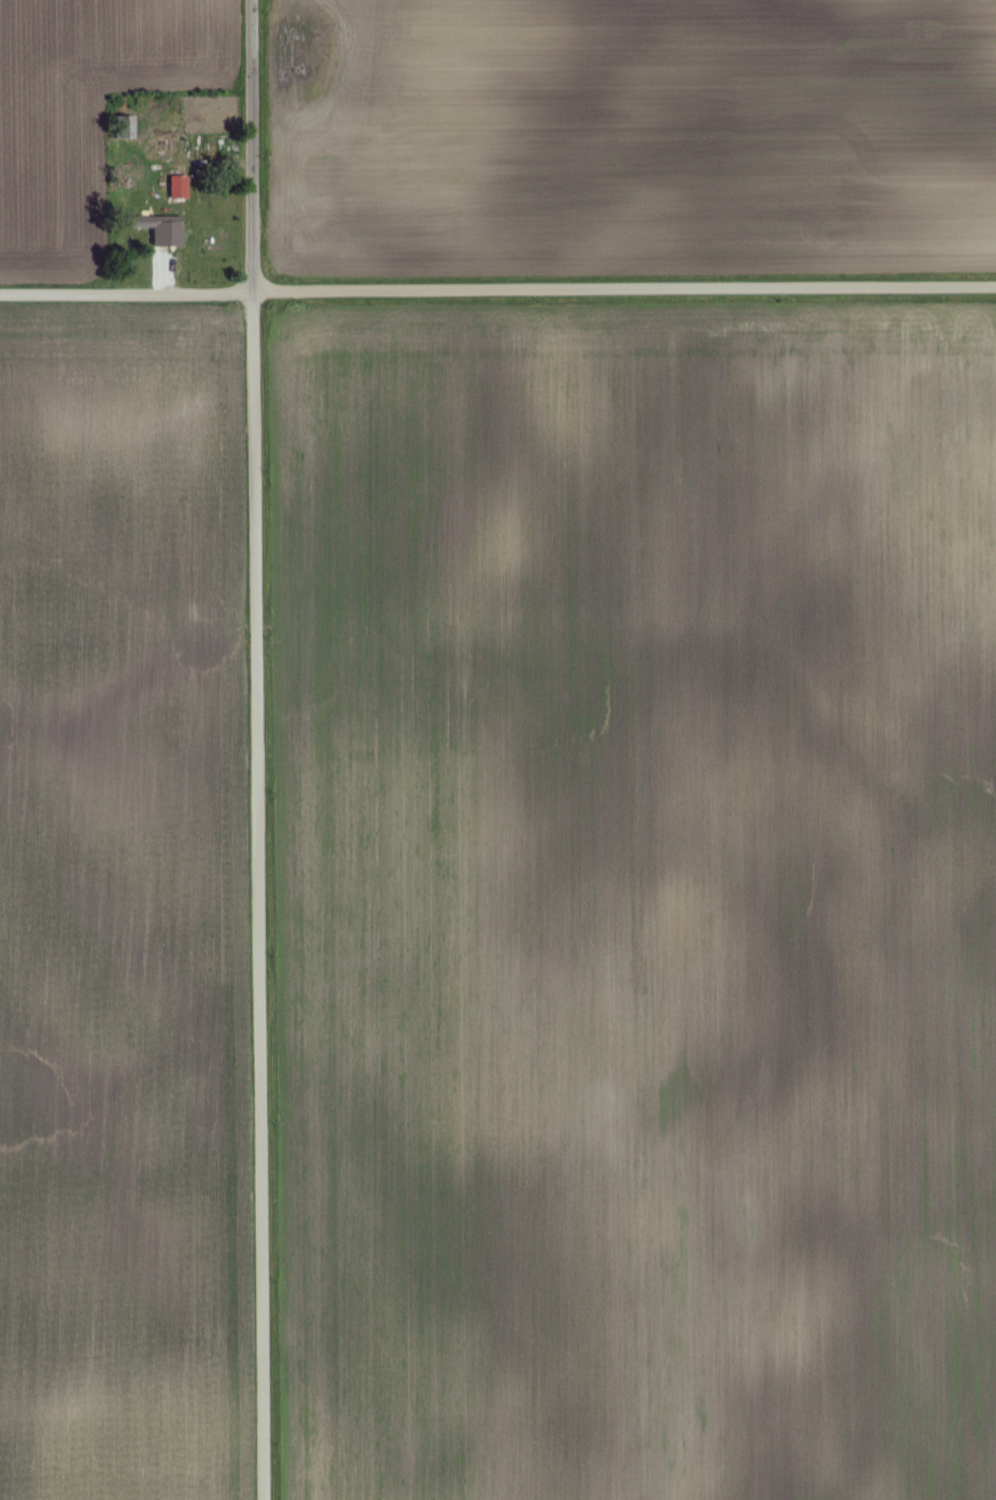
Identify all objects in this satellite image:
building: (178, 188)
road: (498, 292)
road: (252, 750)

